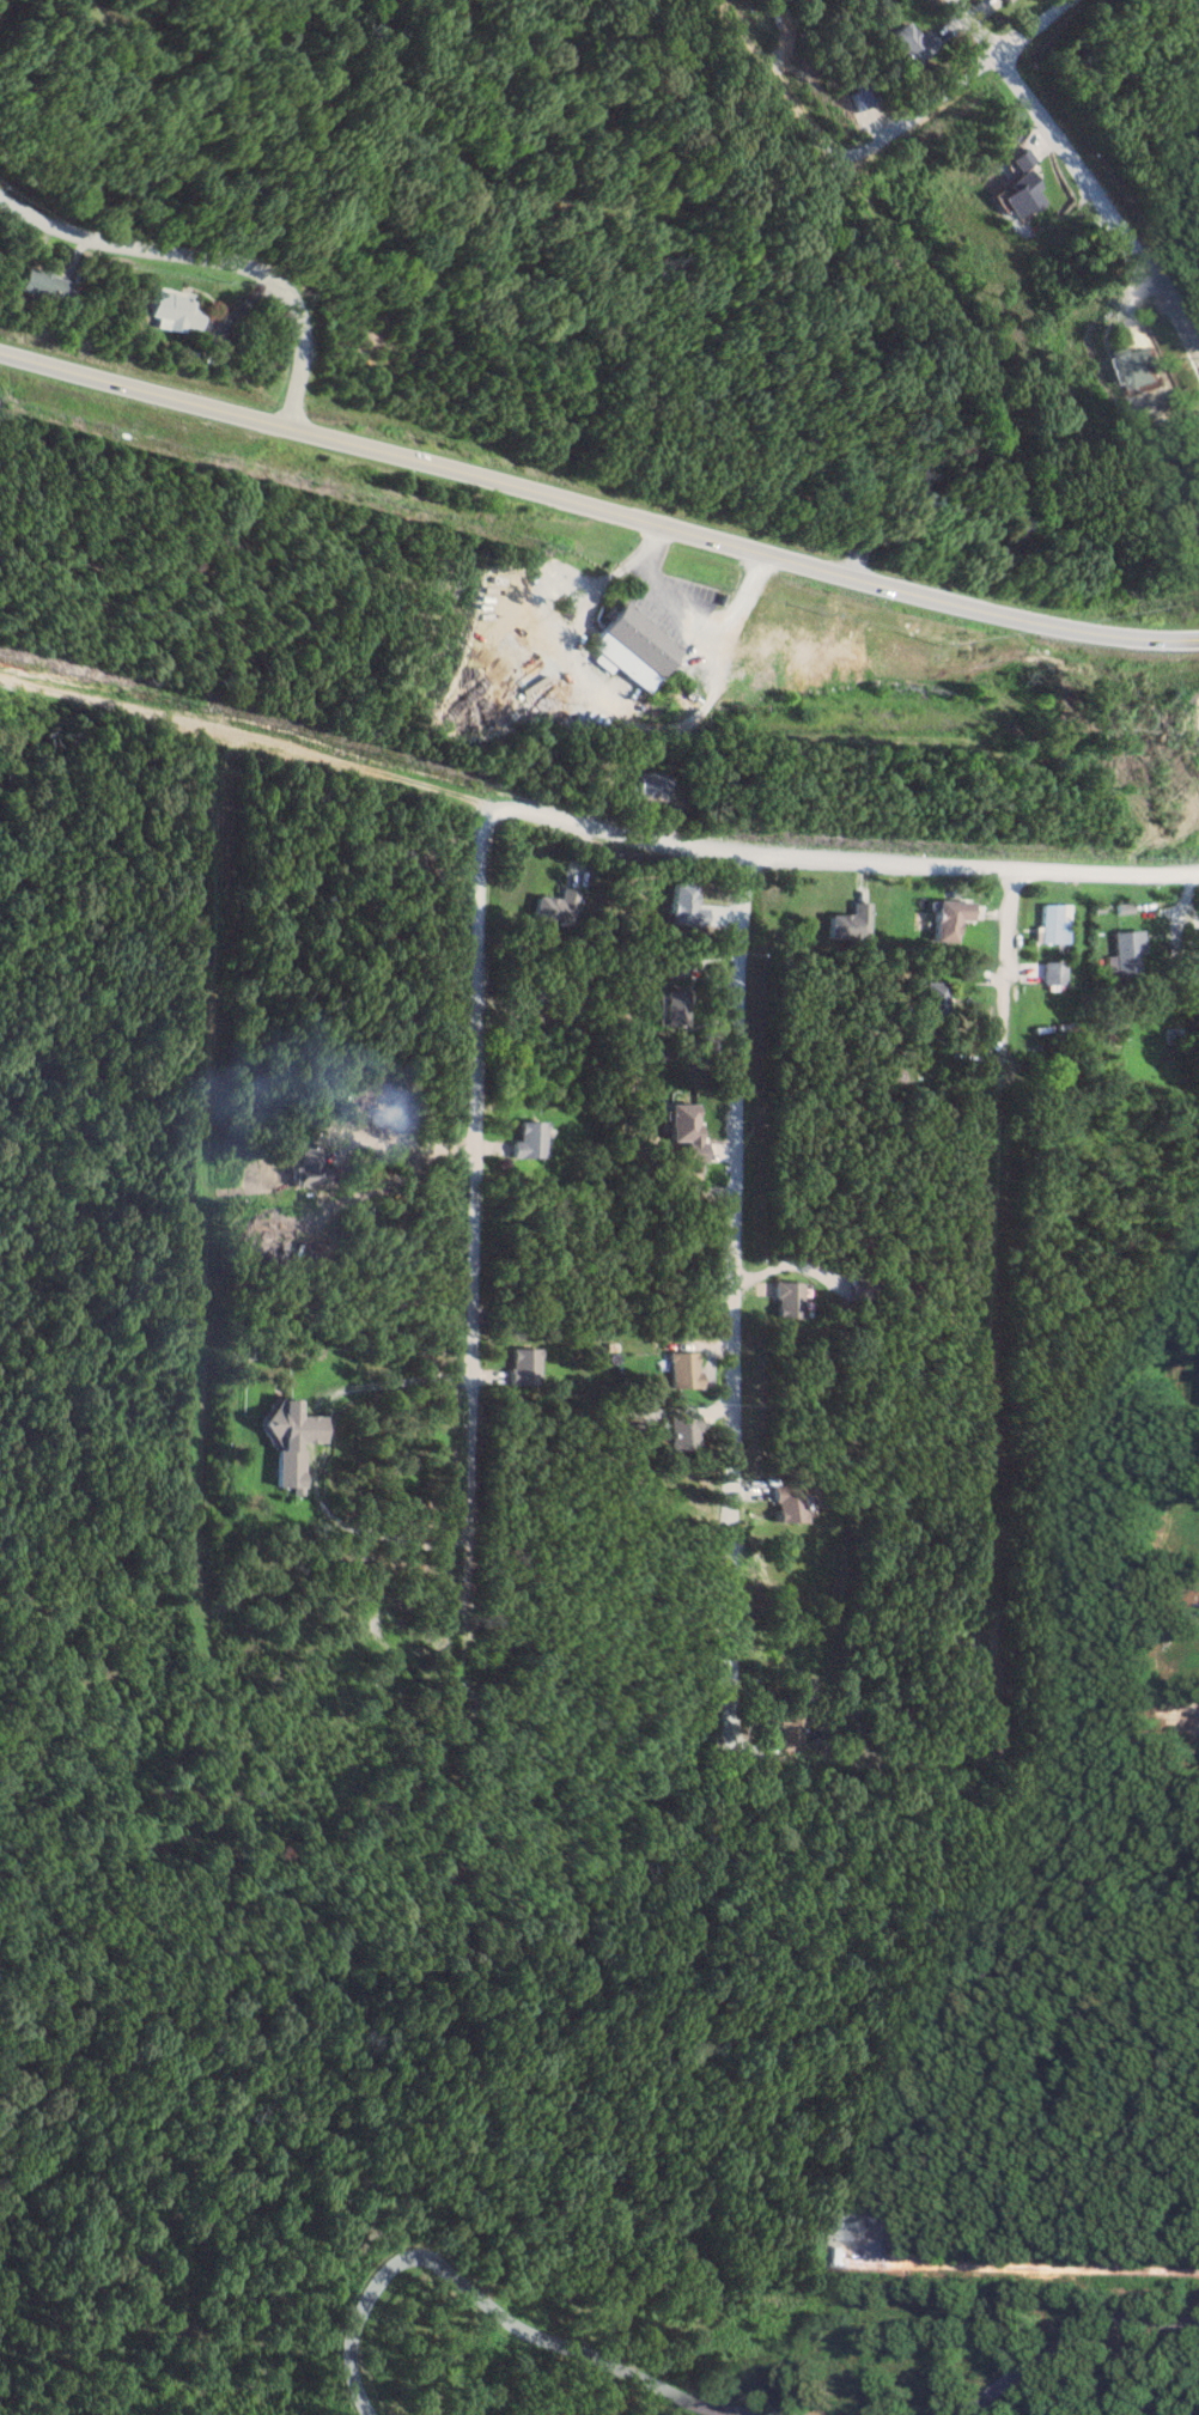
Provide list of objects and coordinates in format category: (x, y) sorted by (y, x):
building: (1005, 0)
building: (909, 43)
road: (574, 69)
road: (963, 89)
building: (1020, 158)
road: (1088, 174)
building: (1018, 194)
road: (866, 208)
road: (211, 261)
building: (35, 286)
building: (166, 311)
building: (1132, 367)
road: (597, 507)
road: (529, 579)
road: (692, 615)
building: (632, 647)
building: (649, 785)
road: (591, 825)
building: (682, 906)
building: (554, 907)
building: (1119, 908)
building: (945, 919)
building: (848, 923)
building: (1048, 925)
building: (1124, 954)
building: (1052, 972)
building: (931, 998)
building: (671, 1008)
building: (684, 1129)
building: (528, 1138)
building: (306, 1166)
road: (206, 1178)
road: (481, 1261)
building: (783, 1297)
road: (736, 1300)
road: (1000, 1302)
building: (521, 1363)
building: (677, 1368)
building: (675, 1430)
building: (287, 1442)
building: (784, 1502)
building: (785, 1732)
road: (483, 2305)
road: (1060, 2330)

